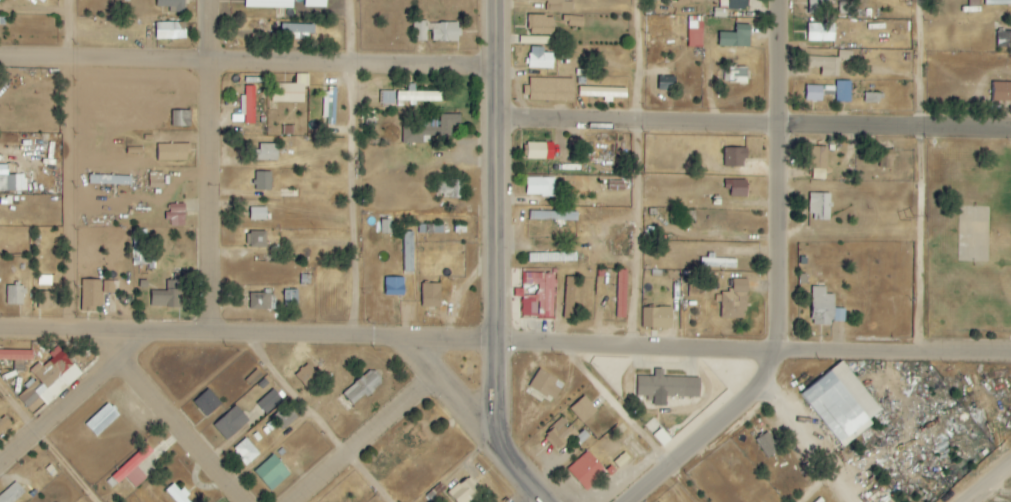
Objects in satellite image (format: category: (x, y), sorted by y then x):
building: (997, 2)
building: (315, 3)
building: (269, 4)
building: (737, 4)
building: (172, 5)
building: (557, 5)
building: (819, 7)
building: (541, 25)
building: (169, 31)
building: (297, 31)
building: (420, 31)
building: (444, 32)
building: (821, 32)
building: (696, 34)
building: (736, 37)
building: (1004, 40)
building: (540, 58)
building: (830, 63)
road: (252, 65)
building: (736, 75)
building: (667, 83)
building: (551, 90)
building: (291, 91)
building: (843, 92)
building: (1002, 92)
building: (603, 93)
building: (817, 93)
building: (421, 97)
building: (872, 98)
building: (388, 99)
building: (249, 105)
building: (181, 119)
road: (758, 121)
building: (430, 129)
building: (540, 151)
building: (266, 152)
building: (173, 153)
building: (736, 157)
building: (886, 161)
building: (819, 163)
road: (77, 166)
road: (218, 168)
road: (358, 169)
road: (641, 174)
road: (916, 175)
building: (110, 180)
building: (156, 180)
building: (10, 181)
building: (263, 181)
building: (540, 187)
building: (445, 188)
building: (737, 188)
road: (775, 191)
building: (820, 206)
building: (258, 214)
building: (176, 215)
building: (553, 216)
power tower: (904, 218)
building: (386, 227)
building: (257, 240)
building: (142, 248)
building: (408, 252)
building: (552, 258)
road: (504, 261)
building: (44, 281)
building: (394, 287)
building: (170, 293)
building: (621, 294)
building: (15, 296)
building: (90, 296)
building: (431, 296)
building: (539, 296)
building: (291, 298)
building: (569, 298)
building: (46, 300)
building: (735, 301)
building: (822, 307)
building: (657, 318)
road: (248, 336)
road: (122, 348)
road: (753, 352)
building: (16, 355)
building: (306, 375)
building: (253, 377)
building: (50, 379)
building: (545, 386)
building: (667, 386)
building: (362, 387)
road: (448, 393)
building: (269, 401)
building: (207, 402)
building: (841, 403)
road: (618, 406)
building: (583, 409)
road: (61, 416)
building: (284, 416)
building: (101, 420)
road: (316, 420)
building: (4, 422)
building: (231, 423)
road: (181, 431)
building: (559, 433)
road: (359, 438)
road: (692, 441)
road: (811, 441)
road: (50, 443)
building: (767, 444)
building: (245, 451)
building: (133, 469)
building: (587, 470)
building: (272, 472)
road: (989, 482)
building: (465, 491)
building: (12, 494)
building: (177, 494)

